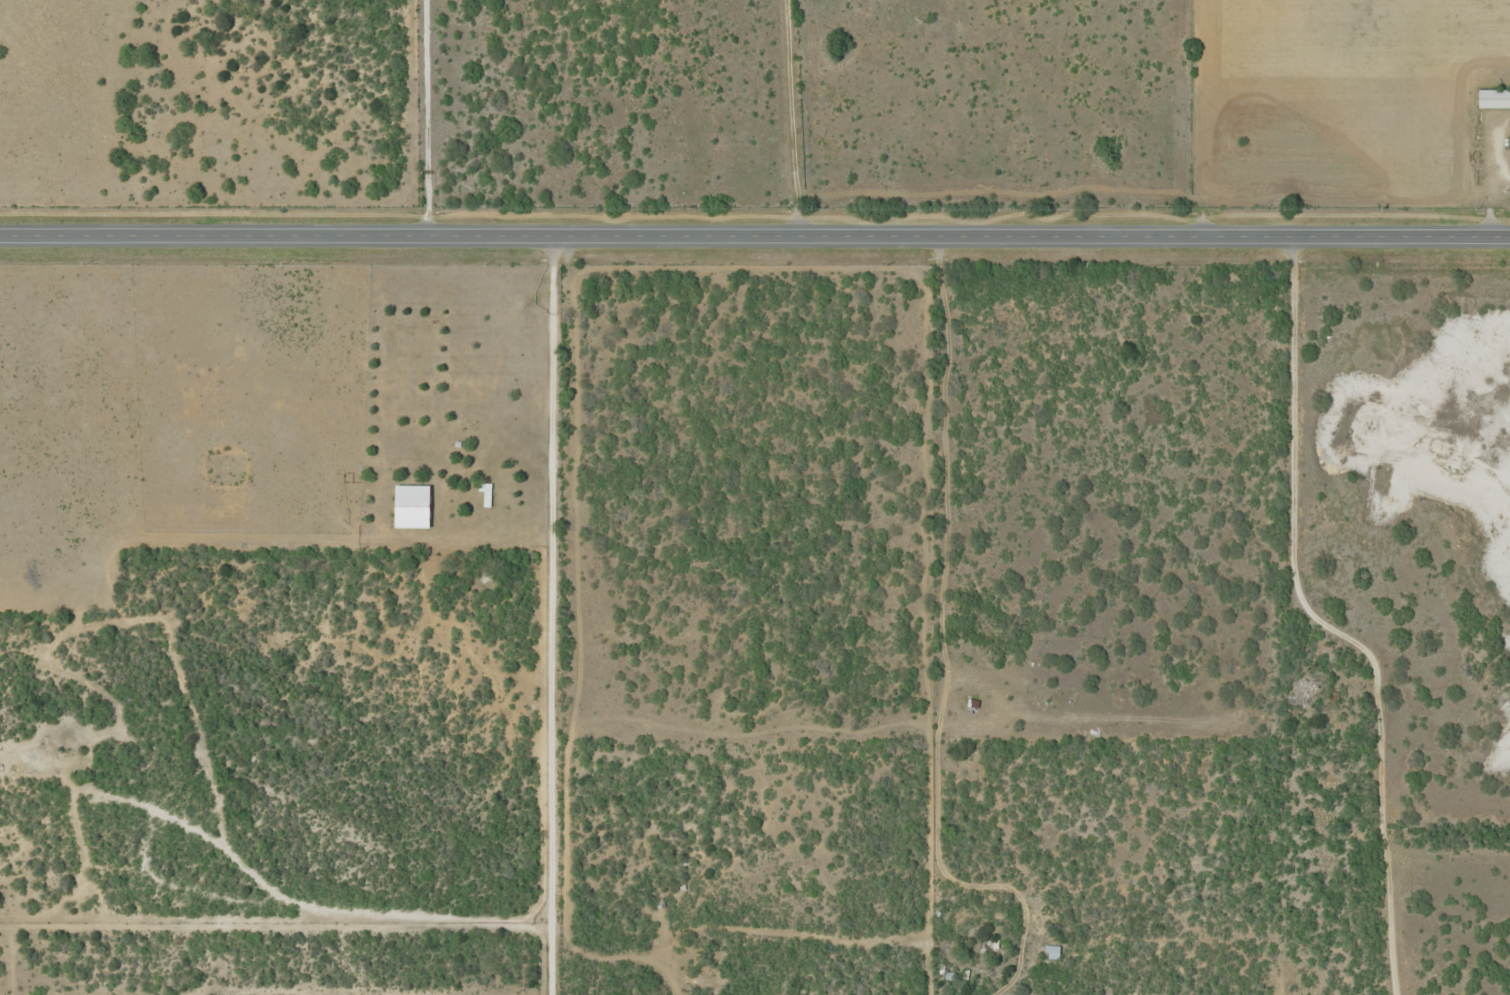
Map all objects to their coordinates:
building: (1495, 98)
road: (754, 241)
road: (1308, 458)
building: (414, 505)
road: (563, 619)
road: (365, 910)
building: (1053, 951)

